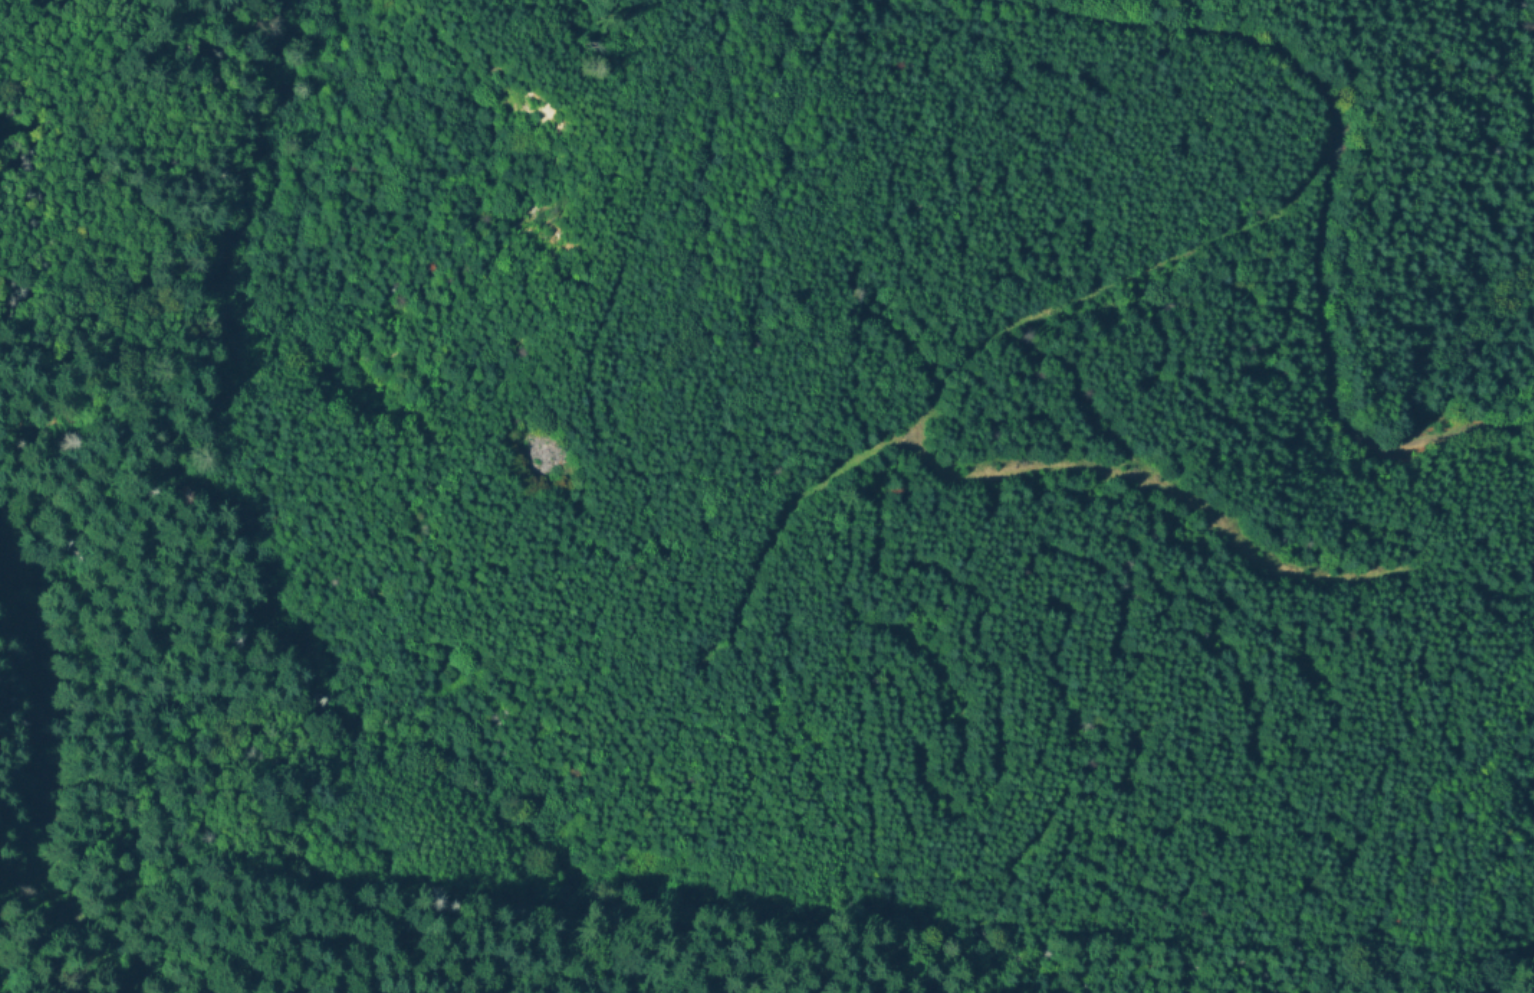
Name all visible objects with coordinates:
road: (1144, 271)
road: (1325, 369)
road: (1155, 489)

